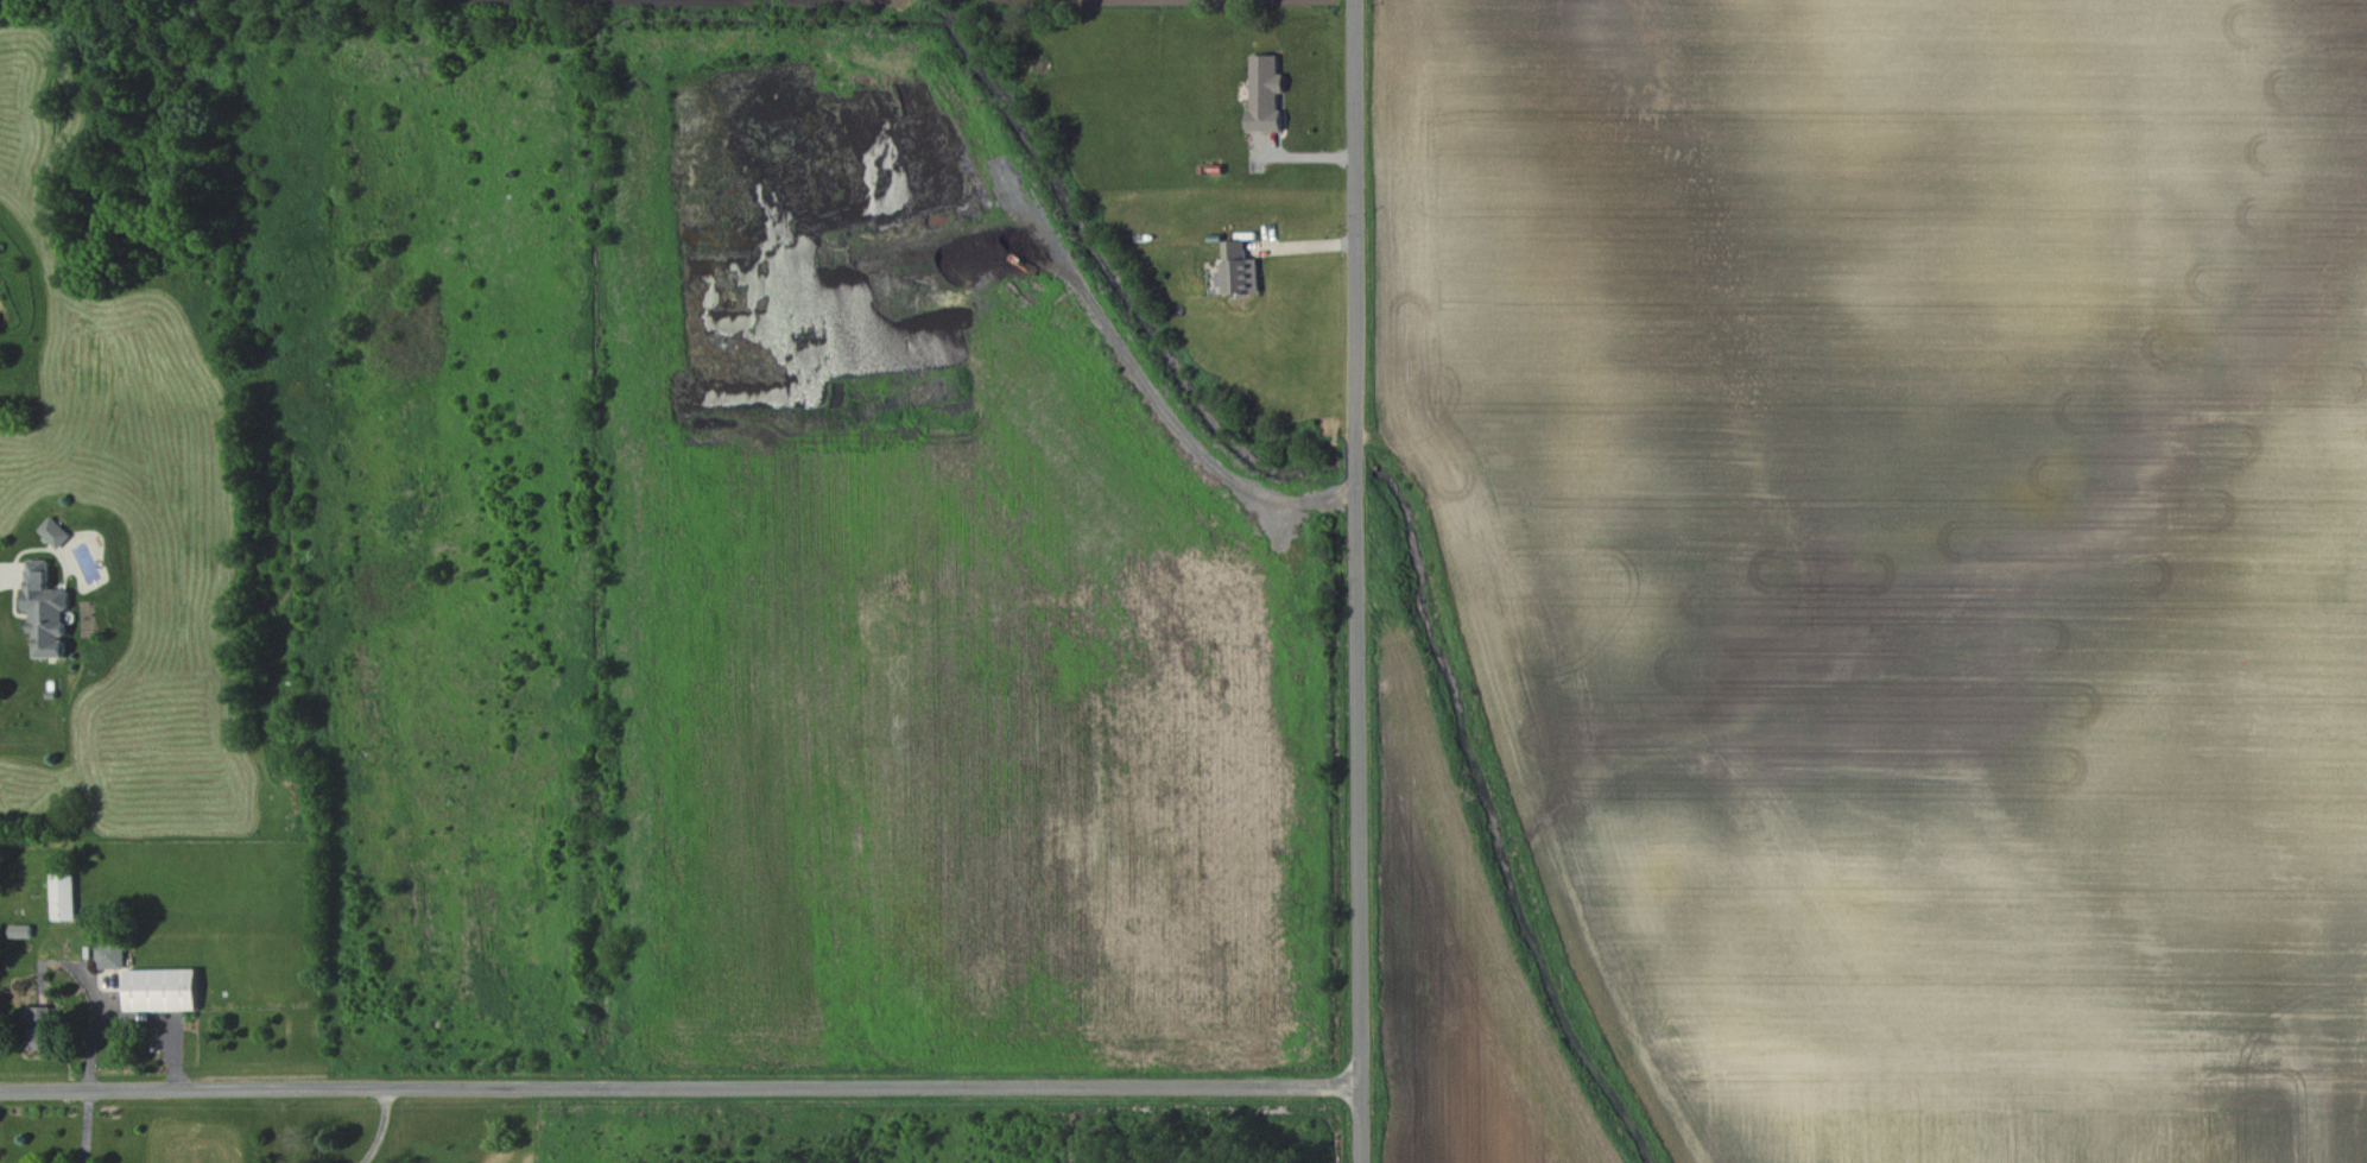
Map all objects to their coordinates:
building: (1265, 89)
building: (57, 530)
road: (1, 579)
road: (1365, 581)
building: (49, 609)
building: (62, 895)
building: (109, 954)
building: (162, 988)
building: (40, 1026)
road: (683, 1087)
road: (86, 1125)
road: (380, 1127)

